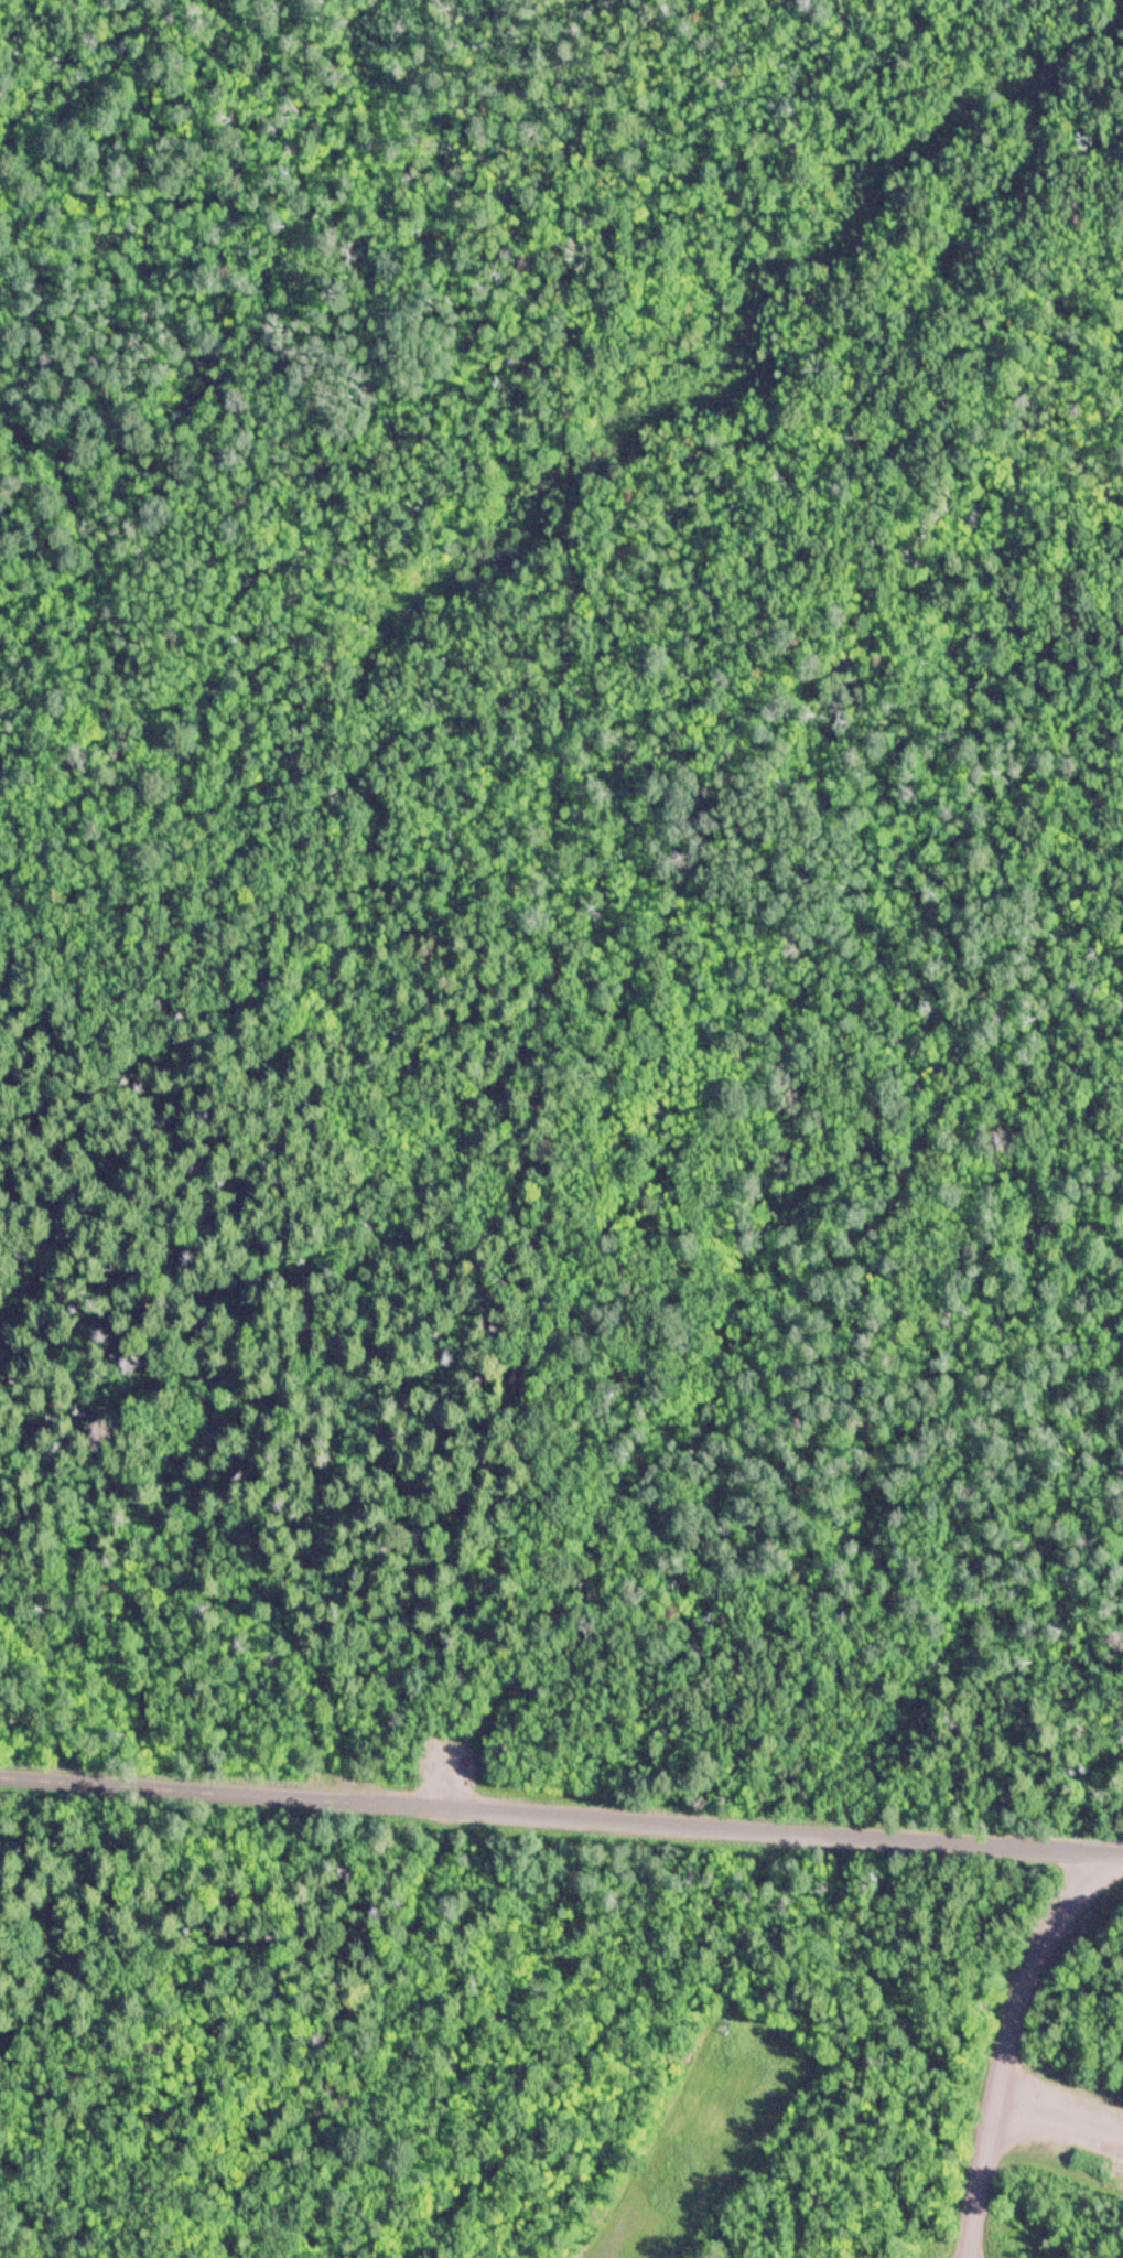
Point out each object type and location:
road: (561, 1817)
road: (1006, 2042)
road: (1061, 2120)
parking lot: (1002, 2254)

